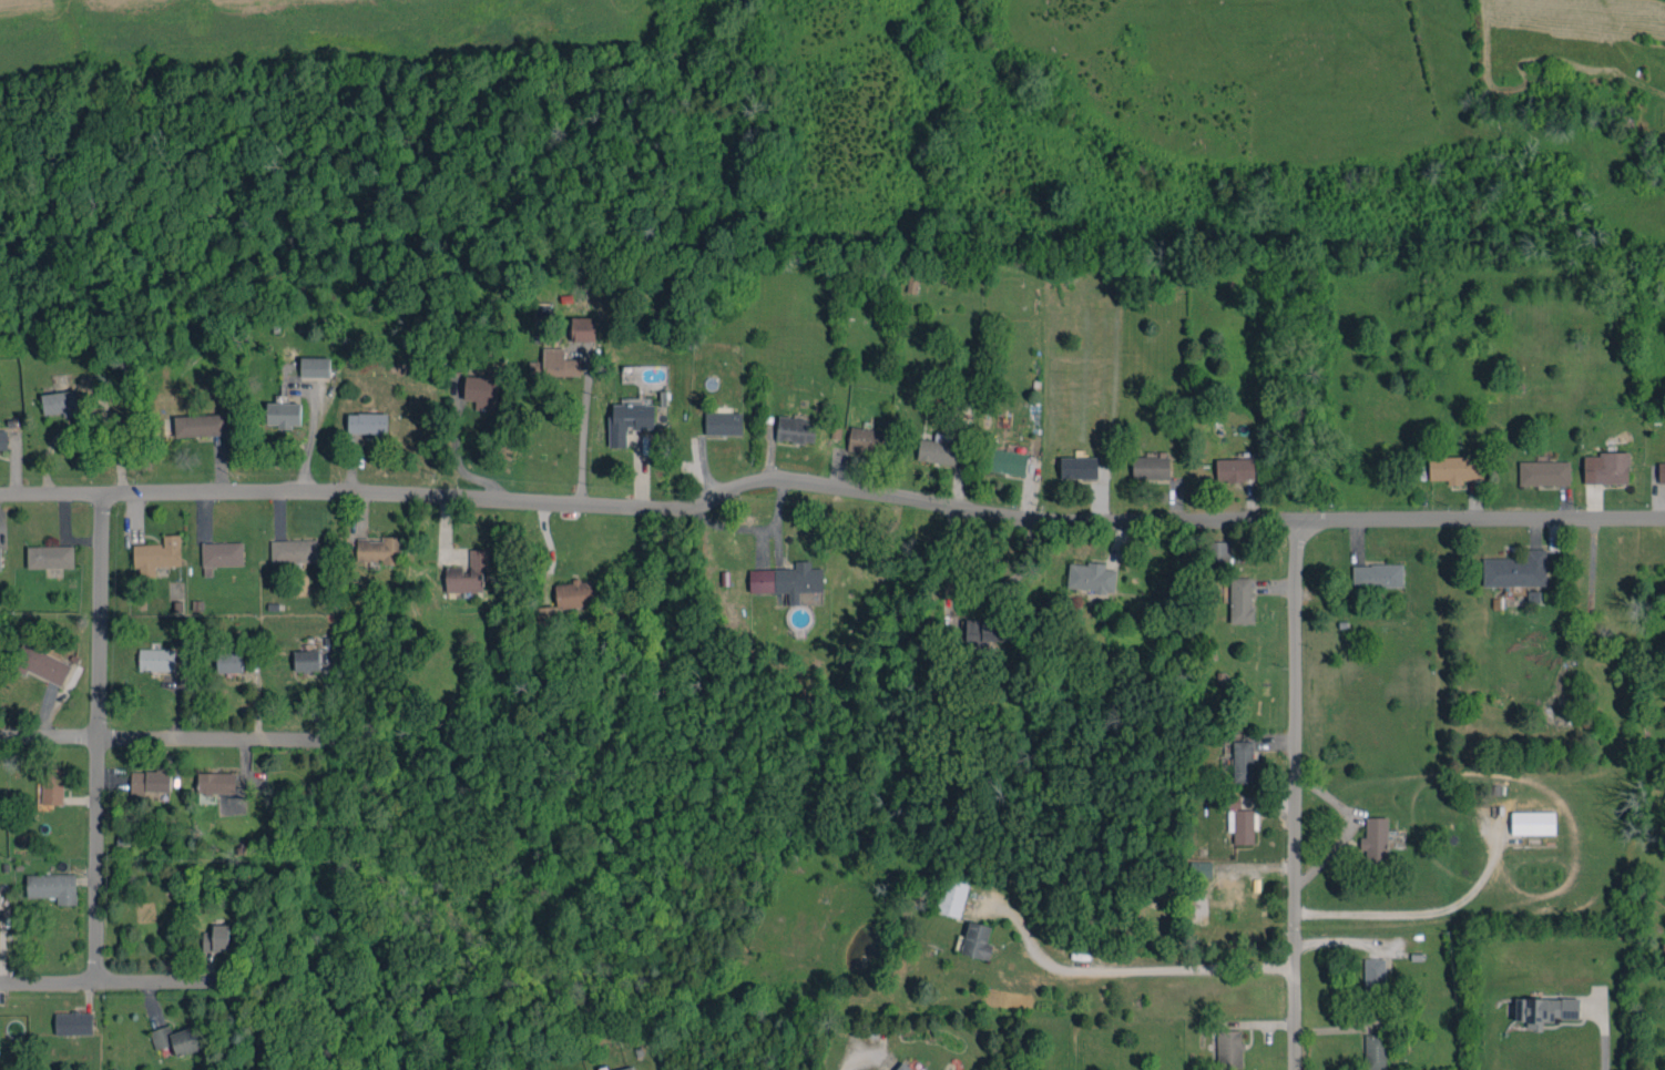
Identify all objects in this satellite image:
building: (583, 328)
building: (554, 364)
building: (315, 367)
building: (481, 391)
building: (60, 402)
building: (283, 414)
building: (629, 420)
building: (723, 422)
building: (367, 424)
building: (201, 425)
building: (796, 429)
road: (582, 435)
building: (2, 439)
building: (867, 440)
building: (938, 449)
building: (1008, 461)
road: (456, 463)
building: (1077, 467)
building: (1151, 467)
building: (1455, 468)
building: (1605, 468)
building: (1234, 469)
building: (1544, 472)
building: (1662, 472)
road: (830, 489)
building: (294, 550)
building: (379, 550)
building: (159, 552)
building: (1218, 553)
building: (50, 557)
building: (0, 560)
building: (1516, 569)
building: (467, 572)
building: (1377, 575)
building: (1090, 577)
building: (787, 580)
building: (574, 593)
building: (1240, 600)
building: (544, 615)
building: (985, 631)
building: (156, 659)
building: (229, 660)
building: (306, 660)
building: (45, 665)
road: (99, 737)
road: (168, 738)
building: (1244, 761)
building: (150, 781)
building: (216, 783)
building: (51, 786)
road: (1297, 793)
building: (1228, 802)
building: (1533, 823)
building: (1243, 825)
building: (1375, 837)
building: (1201, 868)
building: (52, 887)
building: (951, 897)
building: (216, 938)
building: (977, 940)
road: (1138, 972)
building: (1373, 976)
road: (108, 981)
building: (1544, 1010)
building: (73, 1022)
road: (1604, 1035)
building: (175, 1039)
building: (1228, 1048)
building: (1375, 1051)
road: (849, 1061)
building: (903, 1067)
building: (627, 1068)
building: (921, 1069)

